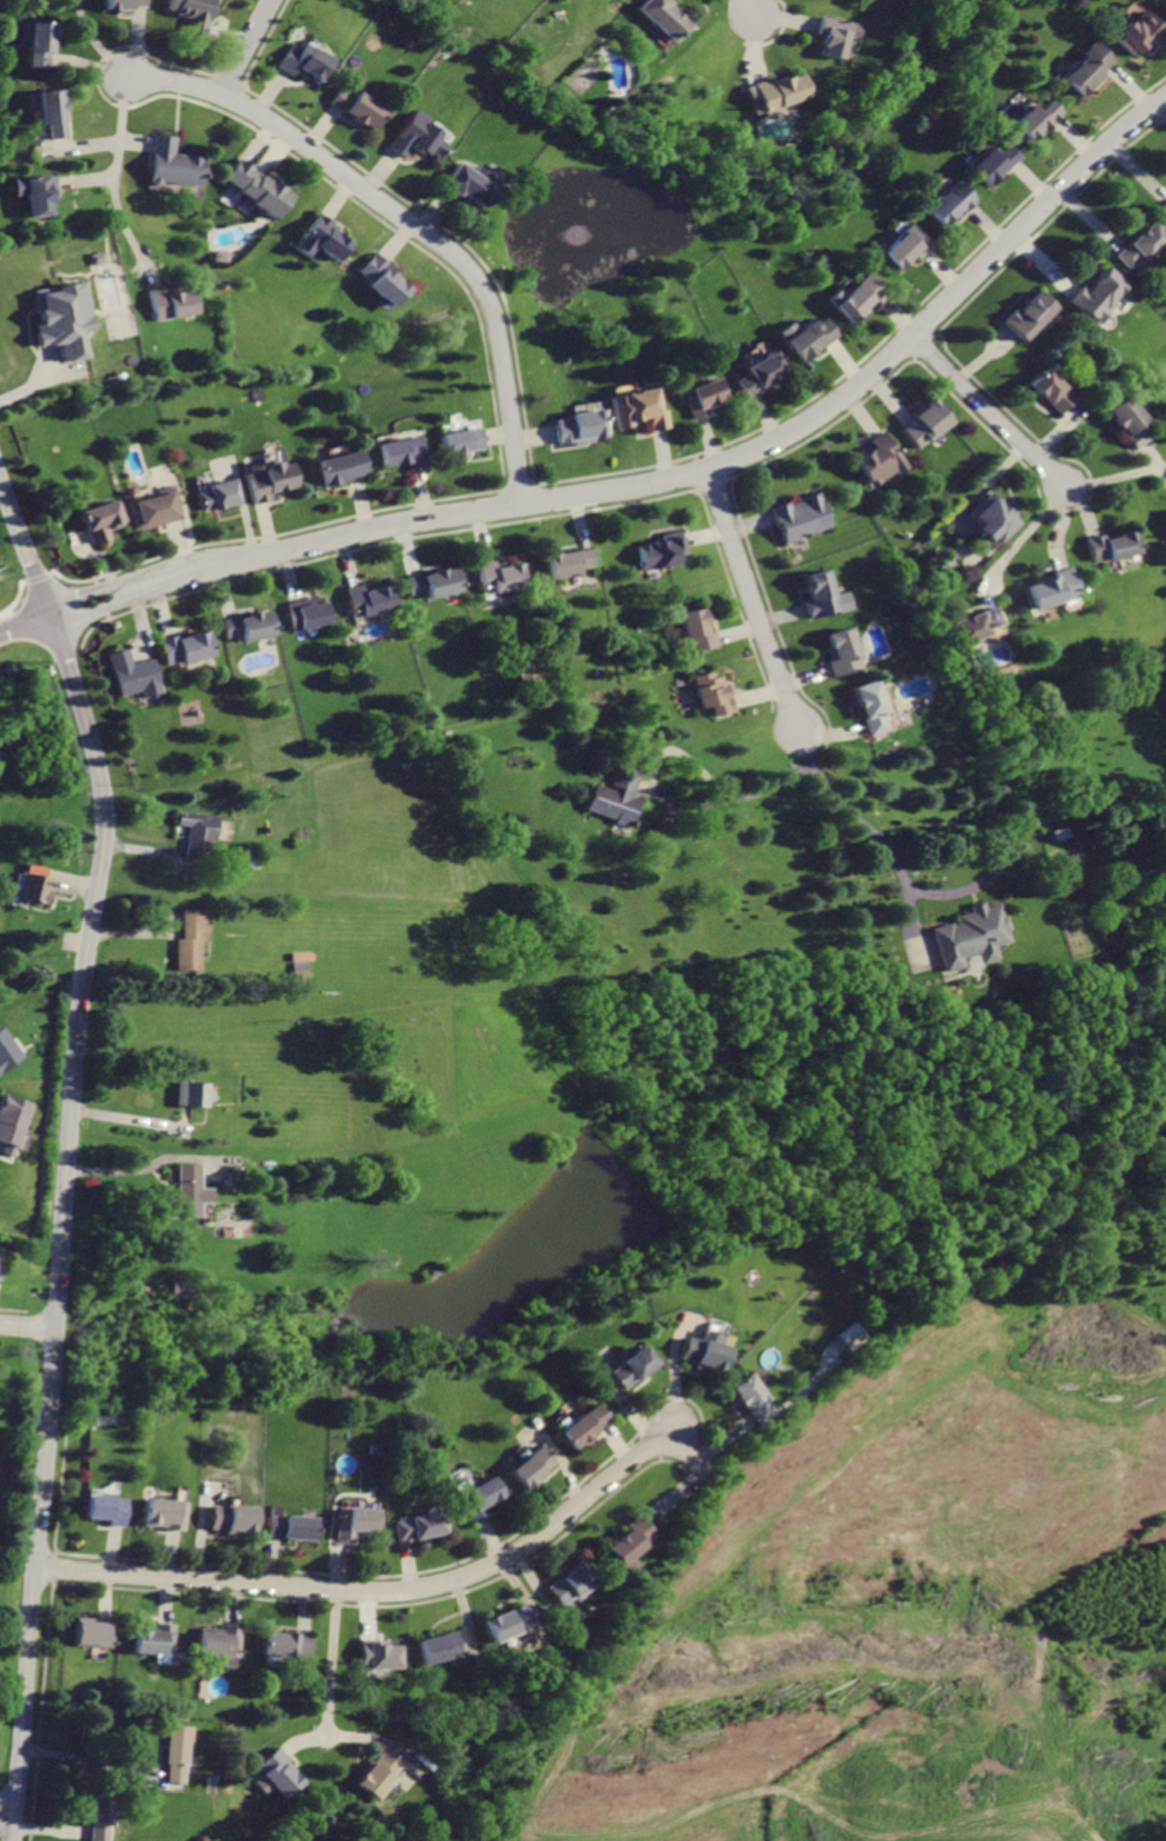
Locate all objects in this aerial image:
building: (1165, 0)
building: (124, 5)
road: (748, 8)
building: (191, 14)
building: (662, 18)
building: (1137, 33)
building: (828, 40)
road: (97, 42)
building: (40, 45)
road: (245, 47)
building: (302, 61)
building: (1083, 70)
building: (771, 94)
building: (354, 106)
building: (52, 112)
building: (1032, 120)
road: (122, 129)
building: (414, 135)
road: (135, 143)
road: (84, 147)
building: (172, 163)
building: (992, 163)
road: (84, 182)
building: (467, 182)
building: (255, 187)
building: (35, 191)
building: (948, 203)
building: (1165, 212)
road: (407, 223)
road: (129, 234)
building: (325, 237)
building: (1137, 243)
building: (905, 248)
building: (220, 254)
building: (381, 279)
building: (1097, 295)
building: (857, 297)
building: (166, 302)
building: (1029, 315)
building: (58, 318)
building: (810, 338)
building: (757, 376)
road: (41, 382)
building: (1049, 390)
building: (698, 397)
building: (634, 407)
road: (989, 412)
building: (1125, 421)
building: (928, 423)
building: (575, 425)
building: (455, 442)
building: (396, 453)
road: (1149, 455)
building: (882, 458)
building: (337, 467)
road: (702, 470)
road: (1162, 473)
road: (1114, 477)
building: (265, 479)
building: (213, 495)
road: (978, 496)
road: (1083, 508)
building: (148, 509)
building: (801, 517)
building: (996, 520)
building: (94, 523)
road: (1059, 527)
road: (1016, 544)
building: (1109, 545)
building: (661, 553)
building: (569, 560)
building: (496, 576)
building: (430, 583)
building: (1052, 586)
road: (77, 594)
building: (819, 594)
building: (367, 600)
road: (754, 600)
road: (85, 613)
building: (307, 614)
building: (976, 622)
road: (24, 625)
building: (247, 626)
building: (698, 630)
building: (183, 649)
building: (842, 653)
building: (129, 673)
building: (712, 694)
building: (869, 706)
road: (685, 754)
building: (615, 797)
road: (734, 797)
building: (195, 832)
road: (877, 839)
road: (1004, 845)
building: (35, 890)
building: (193, 933)
building: (969, 937)
building: (297, 969)
building: (5, 1051)
building: (194, 1093)
building: (10, 1121)
building: (22, 1133)
road: (70, 1153)
building: (188, 1192)
building: (1, 1265)
building: (184, 1290)
road: (28, 1327)
building: (846, 1334)
building: (700, 1351)
building: (628, 1368)
building: (752, 1400)
building: (585, 1427)
building: (529, 1468)
road: (680, 1495)
building: (477, 1498)
building: (105, 1510)
building: (162, 1513)
building: (230, 1518)
building: (350, 1523)
building: (288, 1527)
building: (418, 1527)
building: (635, 1541)
building: (574, 1585)
road: (406, 1591)
building: (509, 1622)
building: (96, 1633)
building: (156, 1640)
building: (223, 1642)
building: (288, 1646)
building: (439, 1648)
building: (380, 1658)
road: (331, 1663)
road: (733, 1712)
road: (303, 1736)
road: (367, 1737)
building: (179, 1753)
road: (95, 1760)
building: (276, 1772)
building: (377, 1775)
road: (8, 1808)
road: (741, 1816)
building: (102, 1819)
road: (933, 1827)
road: (54, 1829)

